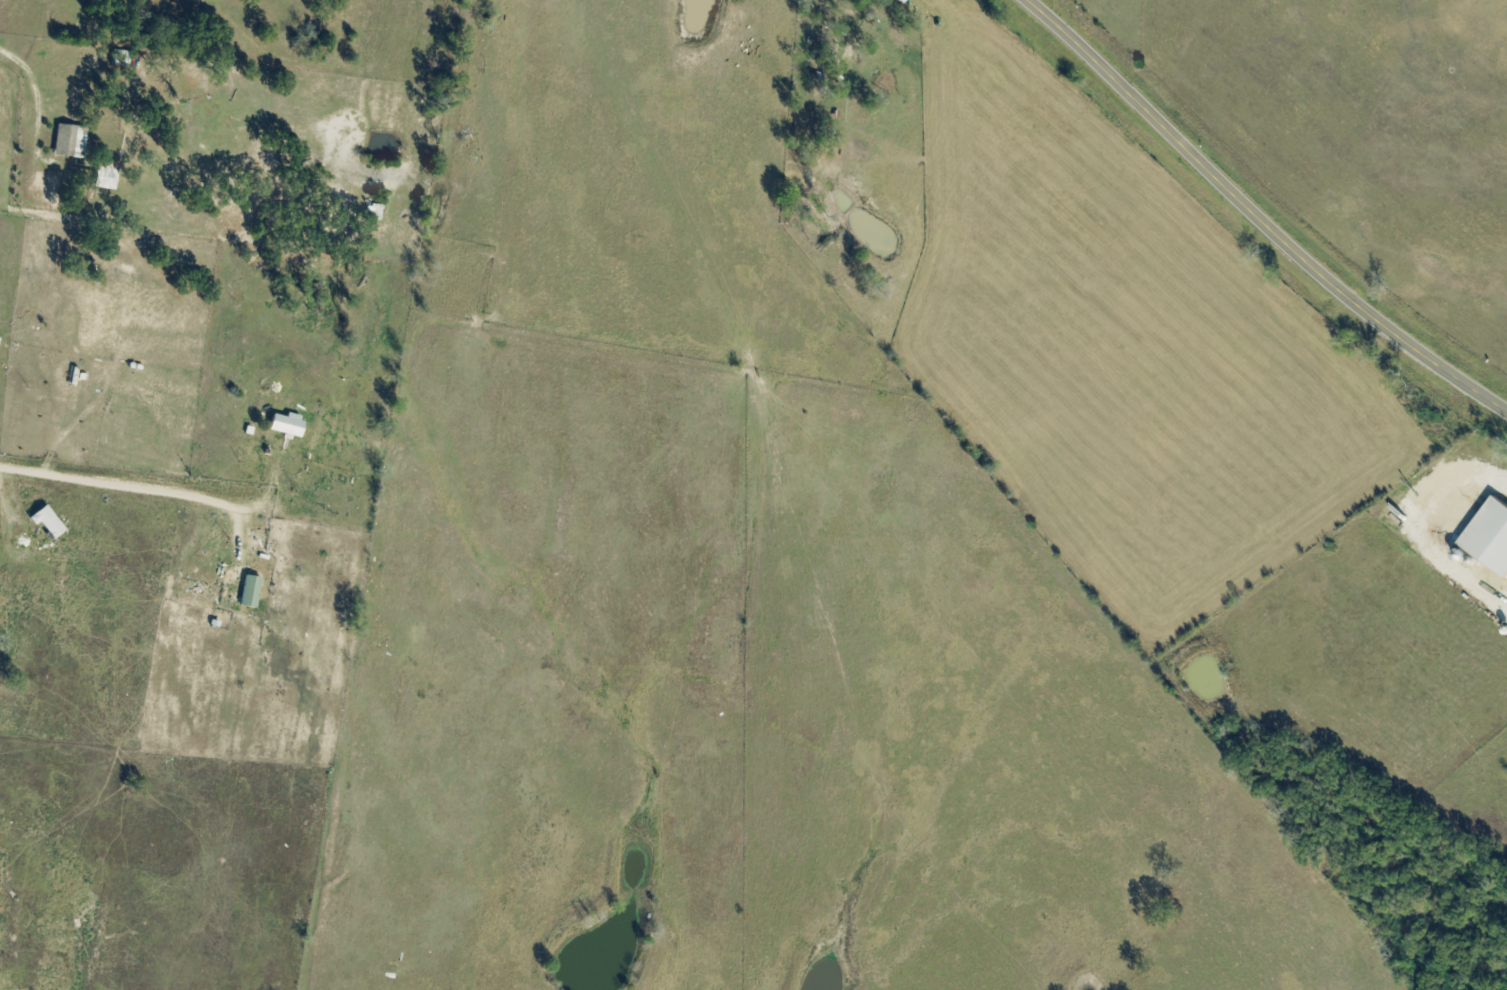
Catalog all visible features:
building: (64, 141)
road: (1255, 218)
building: (285, 424)
road: (138, 488)
building: (322, 488)
building: (47, 523)
building: (249, 591)

